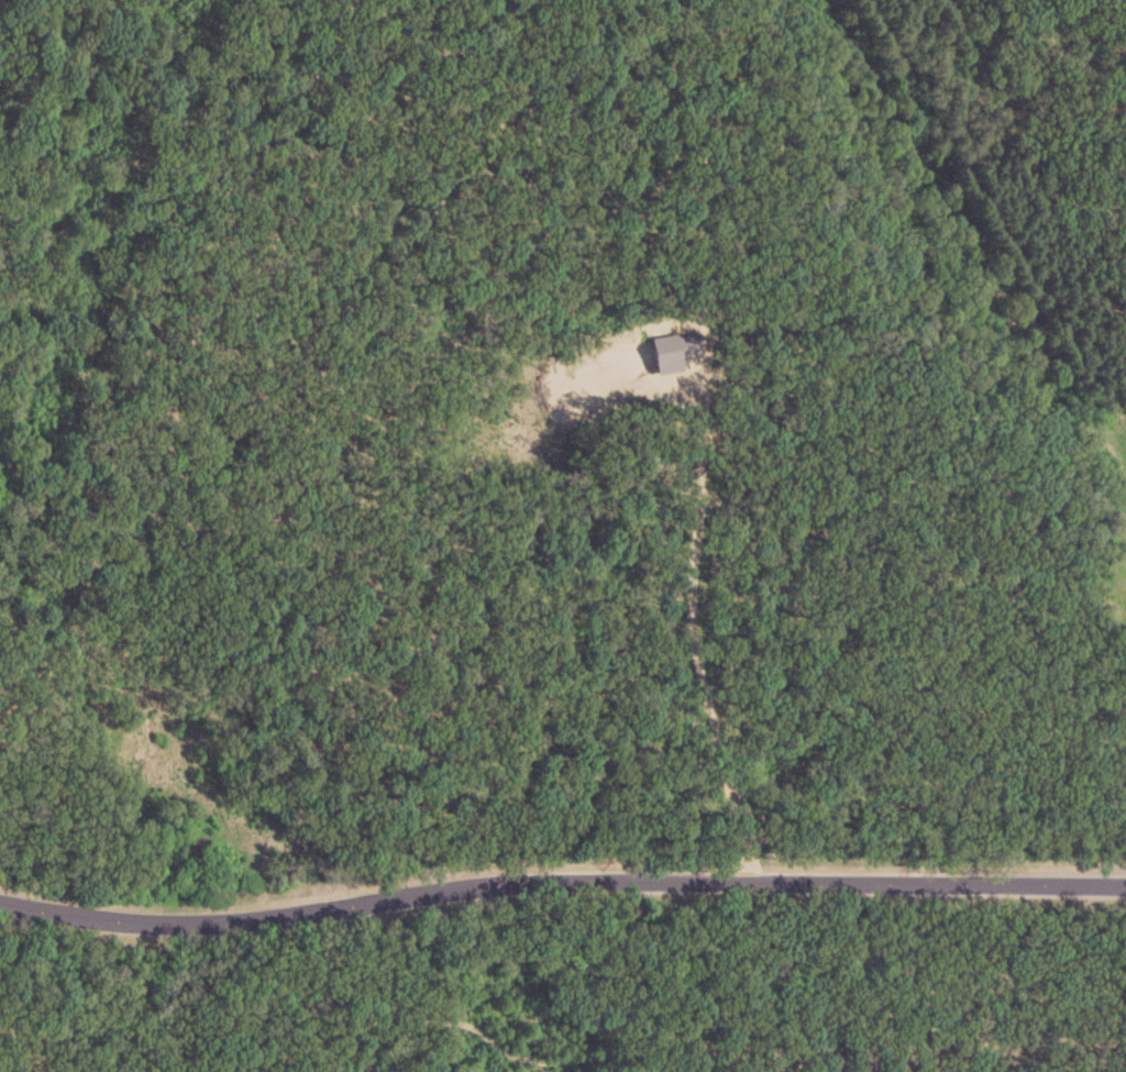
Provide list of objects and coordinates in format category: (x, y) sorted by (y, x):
park: (1110, 605)
road: (695, 634)
road: (561, 881)

